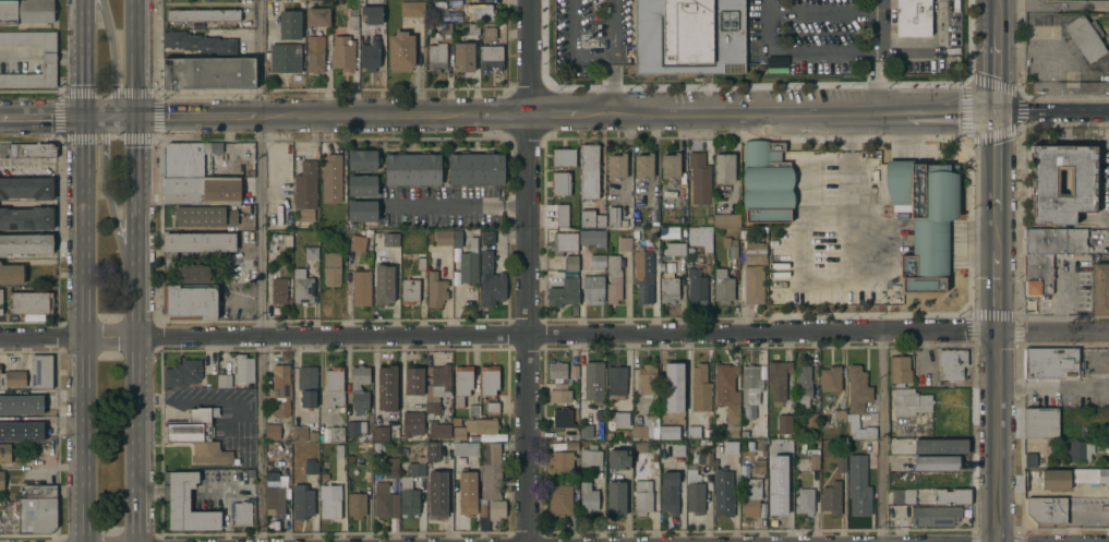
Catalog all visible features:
building: (412, 7)
building: (26, 10)
building: (480, 10)
building: (372, 13)
building: (203, 14)
building: (317, 15)
building: (352, 16)
building: (913, 17)
building: (289, 24)
road: (877, 25)
building: (473, 27)
road: (608, 27)
road: (84, 28)
building: (447, 29)
building: (490, 32)
building: (689, 36)
building: (1086, 36)
building: (198, 41)
road: (571, 47)
road: (932, 49)
building: (400, 50)
road: (796, 50)
building: (315, 52)
building: (342, 52)
building: (370, 53)
building: (436, 55)
building: (463, 56)
building: (491, 56)
road: (995, 56)
road: (21, 57)
road: (49, 57)
road: (70, 57)
building: (285, 57)
building: (49, 58)
road: (142, 58)
road: (117, 63)
building: (774, 64)
building: (209, 72)
road: (876, 82)
road: (611, 85)
road: (85, 86)
road: (1051, 110)
road: (950, 112)
road: (742, 115)
road: (202, 116)
road: (371, 116)
road: (503, 116)
road: (552, 116)
road: (43, 117)
traffic signals: (85, 117)
road: (113, 117)
traffic signals: (142, 117)
building: (31, 148)
building: (564, 156)
building: (186, 158)
building: (362, 159)
building: (616, 165)
building: (643, 165)
building: (671, 165)
building: (724, 167)
building: (411, 168)
building: (475, 168)
building: (590, 169)
building: (332, 178)
building: (700, 178)
building: (767, 181)
building: (560, 182)
building: (1042, 183)
building: (362, 184)
building: (26, 186)
building: (305, 189)
building: (202, 190)
road: (457, 204)
road: (827, 205)
building: (362, 209)
building: (562, 214)
building: (176, 216)
building: (205, 216)
building: (617, 216)
building: (26, 217)
building: (591, 217)
building: (726, 219)
building: (924, 219)
road: (119, 222)
building: (369, 232)
building: (487, 236)
building: (637, 236)
building: (653, 236)
building: (701, 236)
building: (443, 237)
building: (592, 237)
building: (457, 238)
building: (280, 239)
building: (200, 240)
building: (390, 240)
building: (357, 241)
building: (25, 242)
building: (563, 242)
building: (625, 242)
building: (731, 244)
building: (674, 246)
building: (311, 251)
building: (1048, 254)
building: (598, 260)
building: (421, 262)
building: (469, 262)
building: (571, 262)
building: (662, 265)
building: (332, 267)
road: (263, 270)
road: (527, 270)
building: (191, 272)
building: (754, 272)
building: (11, 273)
building: (643, 274)
road: (849, 276)
building: (613, 278)
building: (491, 279)
building: (697, 284)
building: (383, 285)
building: (302, 286)
building: (593, 286)
building: (668, 286)
building: (723, 286)
building: (361, 287)
building: (1100, 288)
building: (279, 289)
building: (409, 289)
building: (435, 289)
building: (563, 291)
building: (0, 300)
building: (31, 301)
building: (190, 301)
road: (525, 322)
road: (997, 326)
road: (84, 328)
road: (141, 329)
road: (1053, 332)
road: (510, 334)
road: (539, 334)
road: (498, 335)
road: (525, 346)
building: (952, 362)
building: (1050, 362)
building: (243, 368)
building: (557, 369)
building: (899, 369)
building: (574, 370)
building: (40, 371)
building: (182, 372)
building: (674, 374)
building: (12, 377)
building: (830, 377)
building: (268, 378)
building: (490, 378)
building: (616, 378)
building: (647, 378)
building: (224, 380)
building: (593, 380)
building: (724, 380)
building: (777, 380)
building: (413, 381)
building: (462, 383)
building: (751, 383)
building: (308, 384)
building: (803, 384)
building: (436, 385)
building: (334, 386)
building: (359, 387)
building: (700, 387)
building: (386, 388)
building: (857, 388)
building: (280, 389)
building: (559, 393)
building: (911, 401)
building: (28, 405)
building: (493, 407)
building: (473, 410)
building: (839, 414)
building: (562, 417)
building: (732, 418)
building: (620, 419)
building: (810, 419)
building: (411, 422)
building: (784, 422)
building: (1041, 422)
building: (192, 425)
building: (647, 425)
building: (665, 425)
building: (354, 426)
building: (474, 426)
building: (438, 429)
building: (272, 430)
building: (861, 430)
building: (21, 431)
building: (586, 431)
building: (692, 431)
building: (299, 432)
building: (336, 432)
building: (707, 432)
building: (379, 433)
building: (667, 433)
building: (746, 433)
building: (312, 434)
building: (321, 434)
building: (473, 436)
building: (492, 436)
road: (884, 436)
building: (1107, 442)
building: (555, 444)
building: (571, 444)
building: (376, 445)
building: (940, 445)
building: (731, 446)
building: (466, 447)
building: (677, 448)
building: (781, 448)
building: (338, 449)
building: (1080, 449)
building: (431, 450)
building: (4, 451)
building: (213, 451)
building: (590, 455)
building: (704, 457)
building: (350, 458)
building: (562, 458)
building: (618, 458)
building: (1030, 459)
building: (813, 460)
building: (1108, 460)
building: (937, 462)
building: (840, 463)
building: (311, 465)
building: (759, 465)
building: (785, 465)
building: (417, 466)
road: (56, 467)
building: (391, 467)
building: (491, 470)
building: (251, 472)
building: (1092, 474)
building: (1, 478)
building: (1054, 478)
building: (941, 479)
building: (858, 484)
building: (37, 491)
building: (668, 491)
building: (723, 491)
building: (749, 491)
building: (467, 492)
building: (274, 494)
building: (436, 494)
building: (695, 494)
building: (903, 495)
building: (952, 495)
building: (408, 496)
building: (588, 496)
building: (616, 496)
building: (642, 496)
building: (831, 496)
building: (559, 498)
building: (777, 498)
building: (329, 499)
building: (805, 499)
building: (301, 501)
building: (385, 501)
building: (185, 502)
building: (357, 504)
building: (482, 507)
building: (495, 508)
building: (761, 509)
building: (1047, 509)
building: (243, 511)
building: (935, 514)
building: (31, 515)
building: (483, 523)

